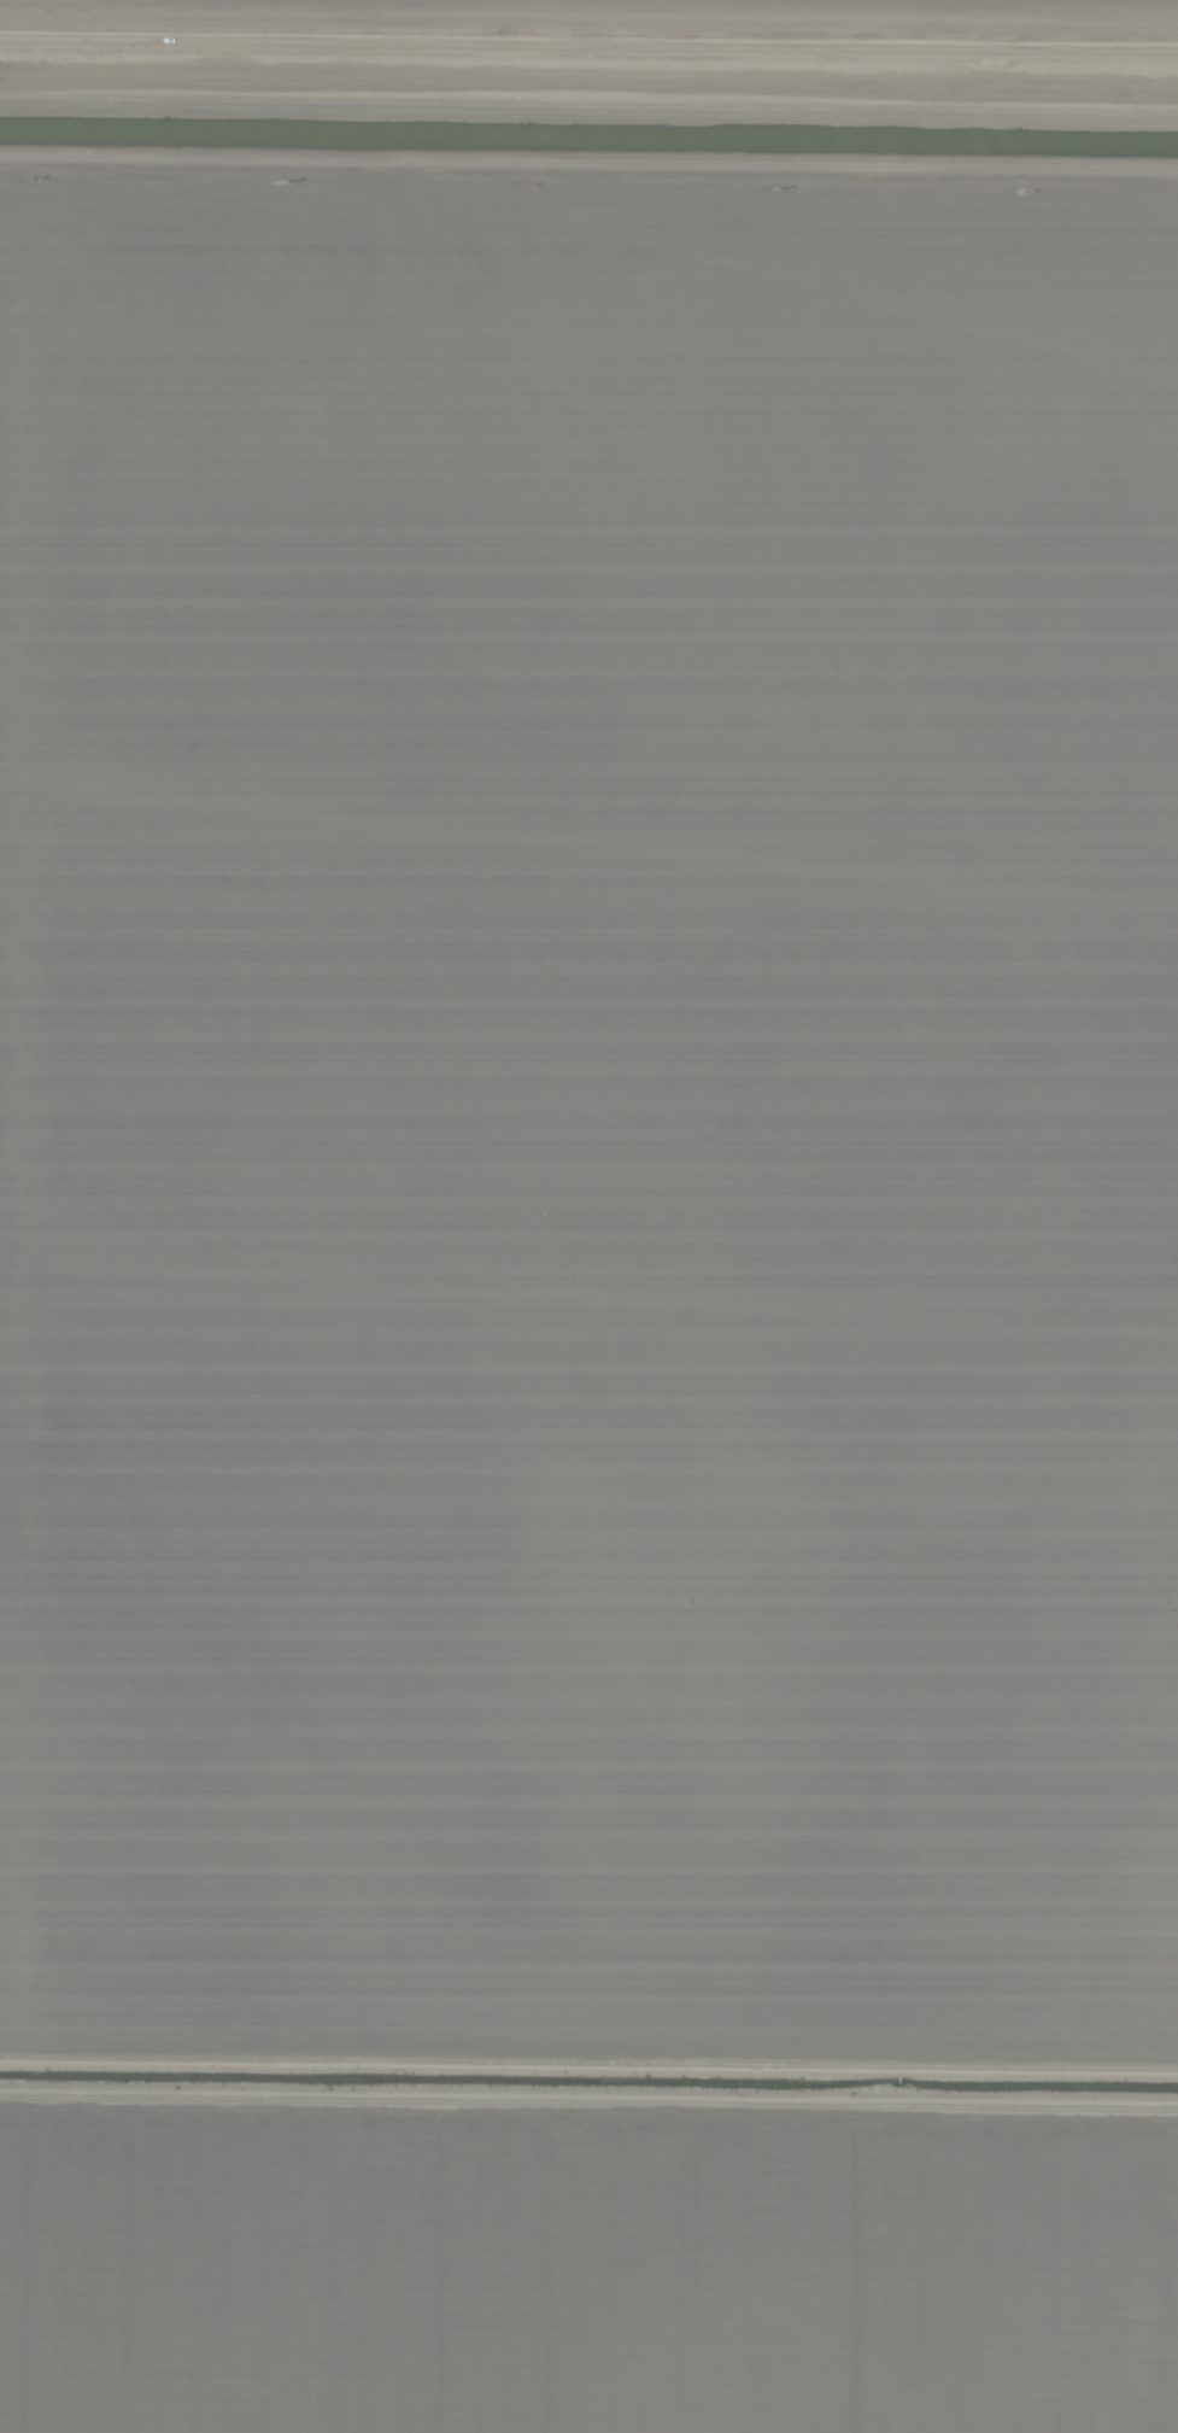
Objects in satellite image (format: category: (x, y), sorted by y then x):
road: (588, 42)
road: (588, 187)
crop: (588, 1216)

